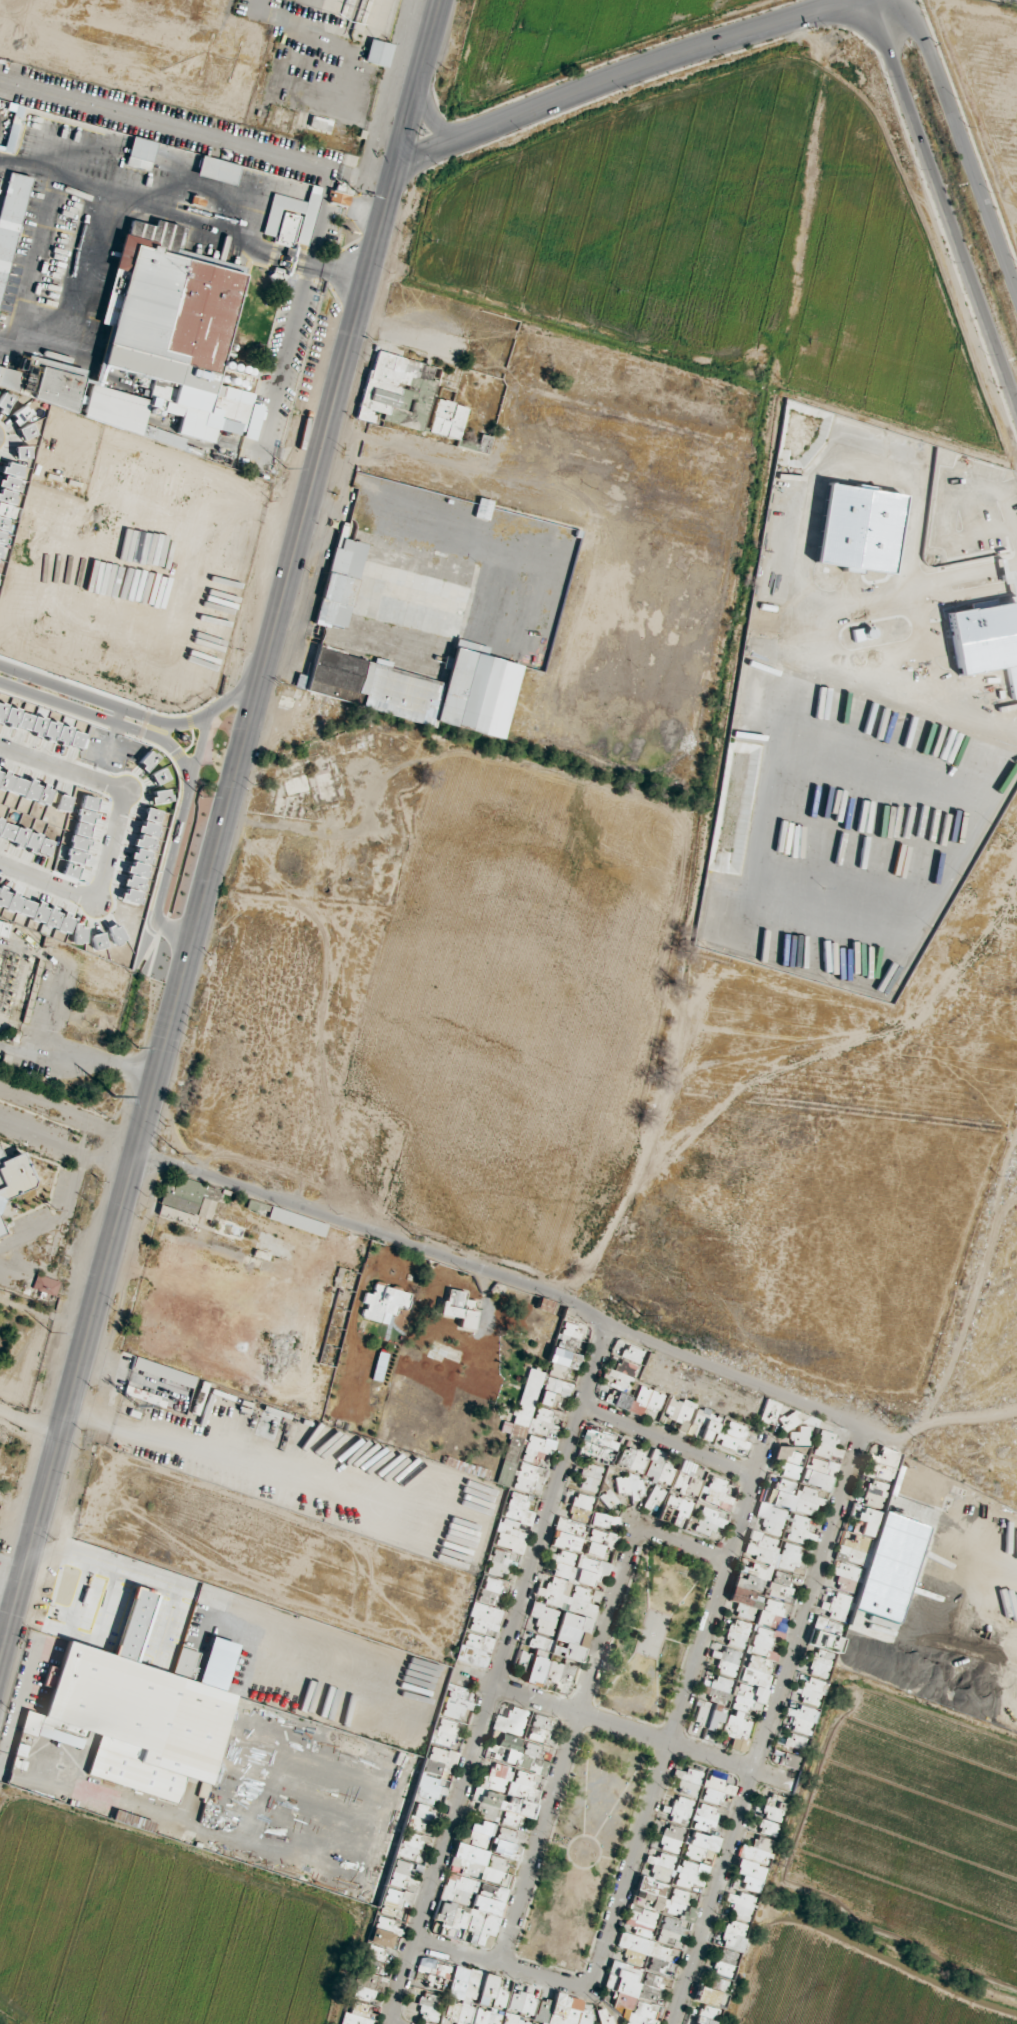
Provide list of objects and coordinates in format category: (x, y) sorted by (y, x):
crop: (559, 43)
crop: (641, 214)
crop: (877, 390)
crop: (100, 665)
crop: (869, 865)
power substation: (13, 975)
crop: (522, 1003)
power tower: (109, 1094)
power tower: (638, 1317)
power tower: (895, 1421)
park: (652, 1633)
park: (574, 1854)

